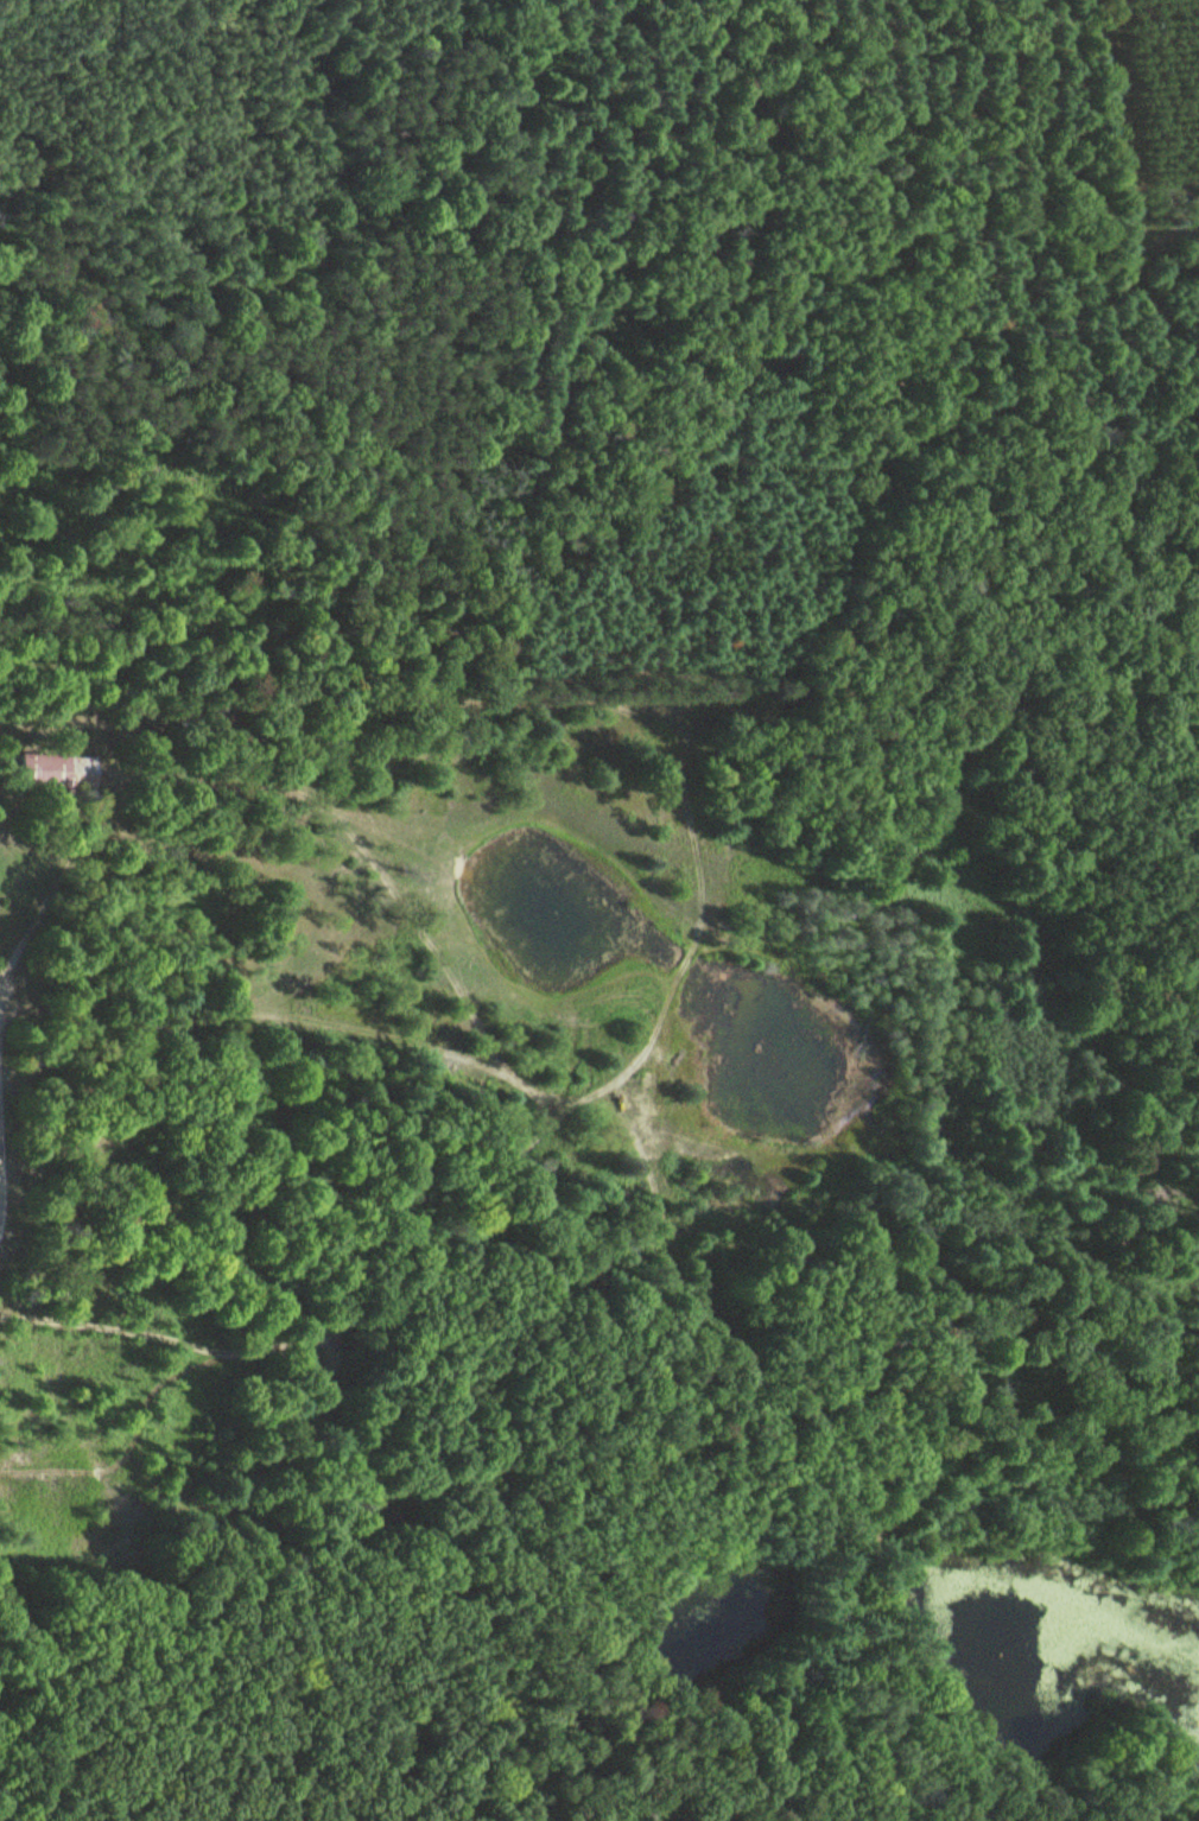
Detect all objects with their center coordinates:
road: (1119, 148)
road: (82, 722)
building: (57, 774)

